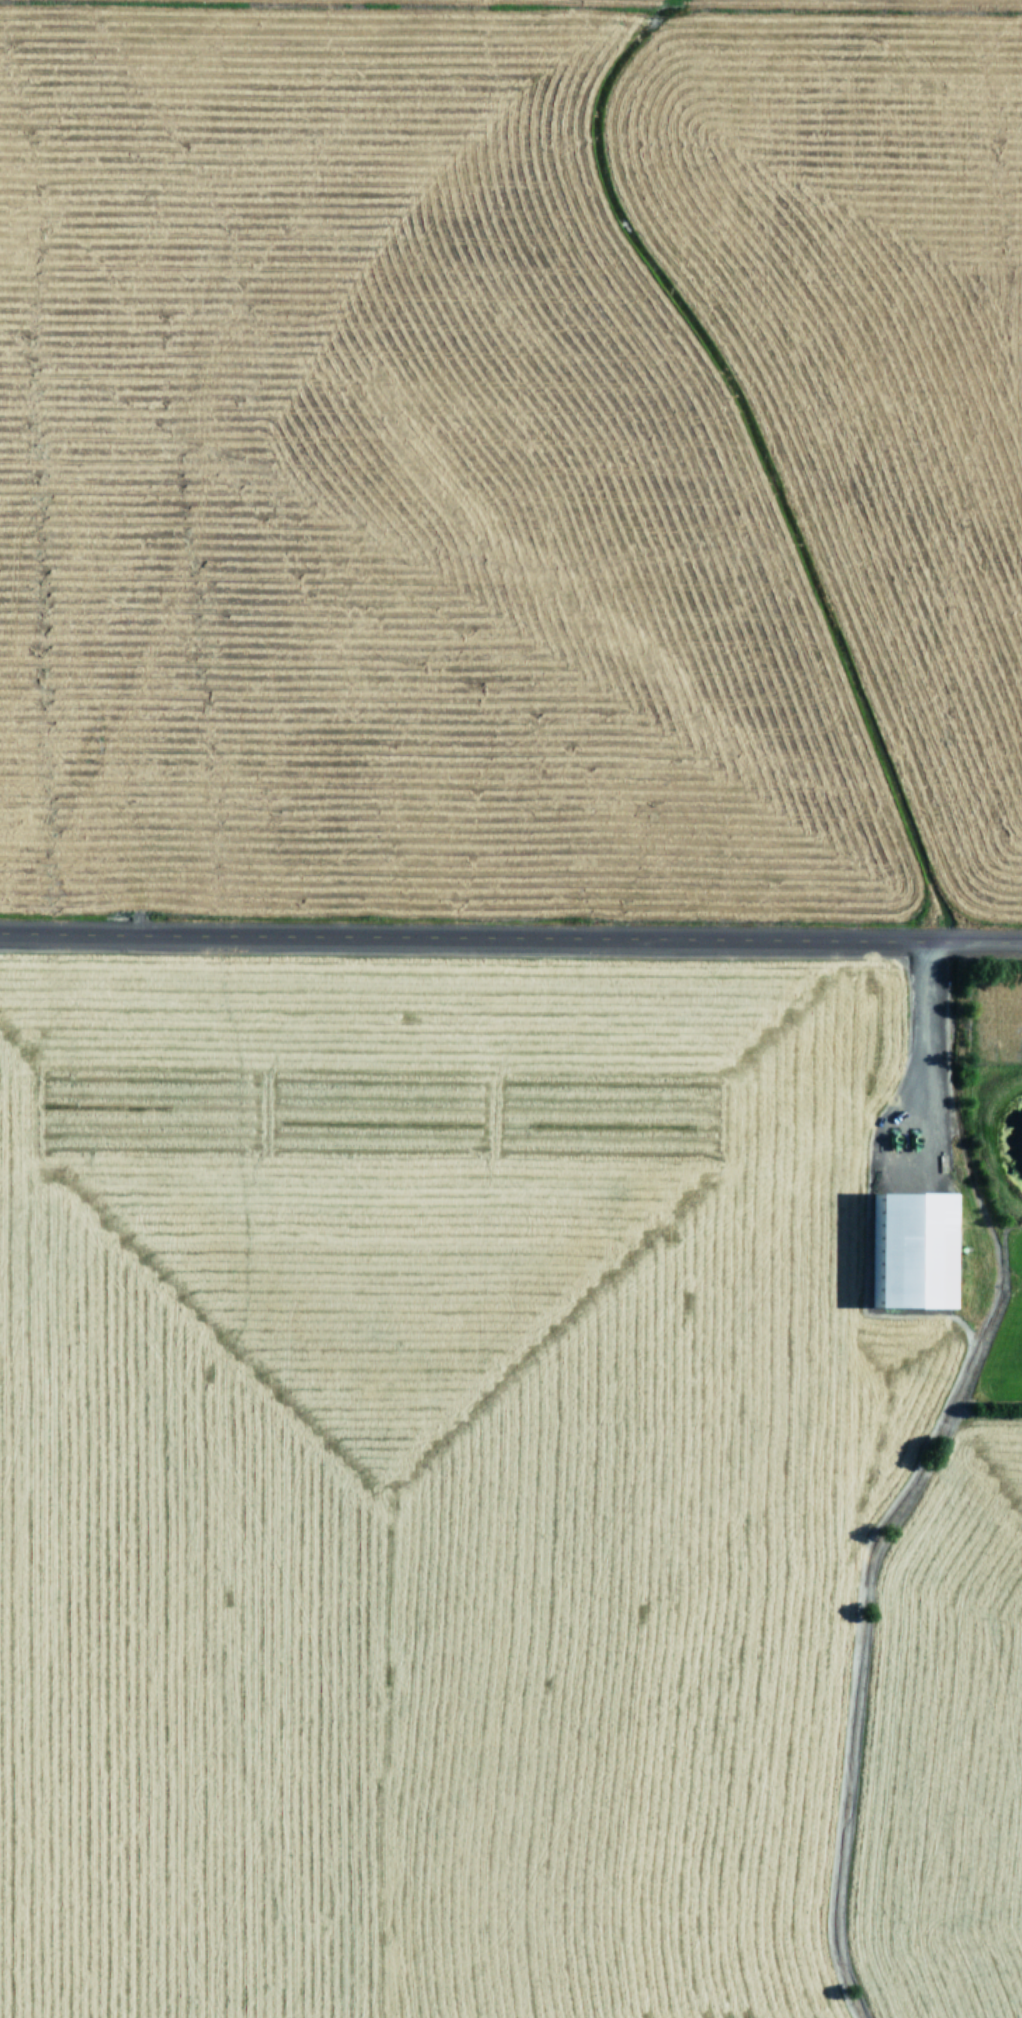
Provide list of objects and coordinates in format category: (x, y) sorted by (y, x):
crop: (511, 457)
road: (511, 940)
crop: (509, 1488)

